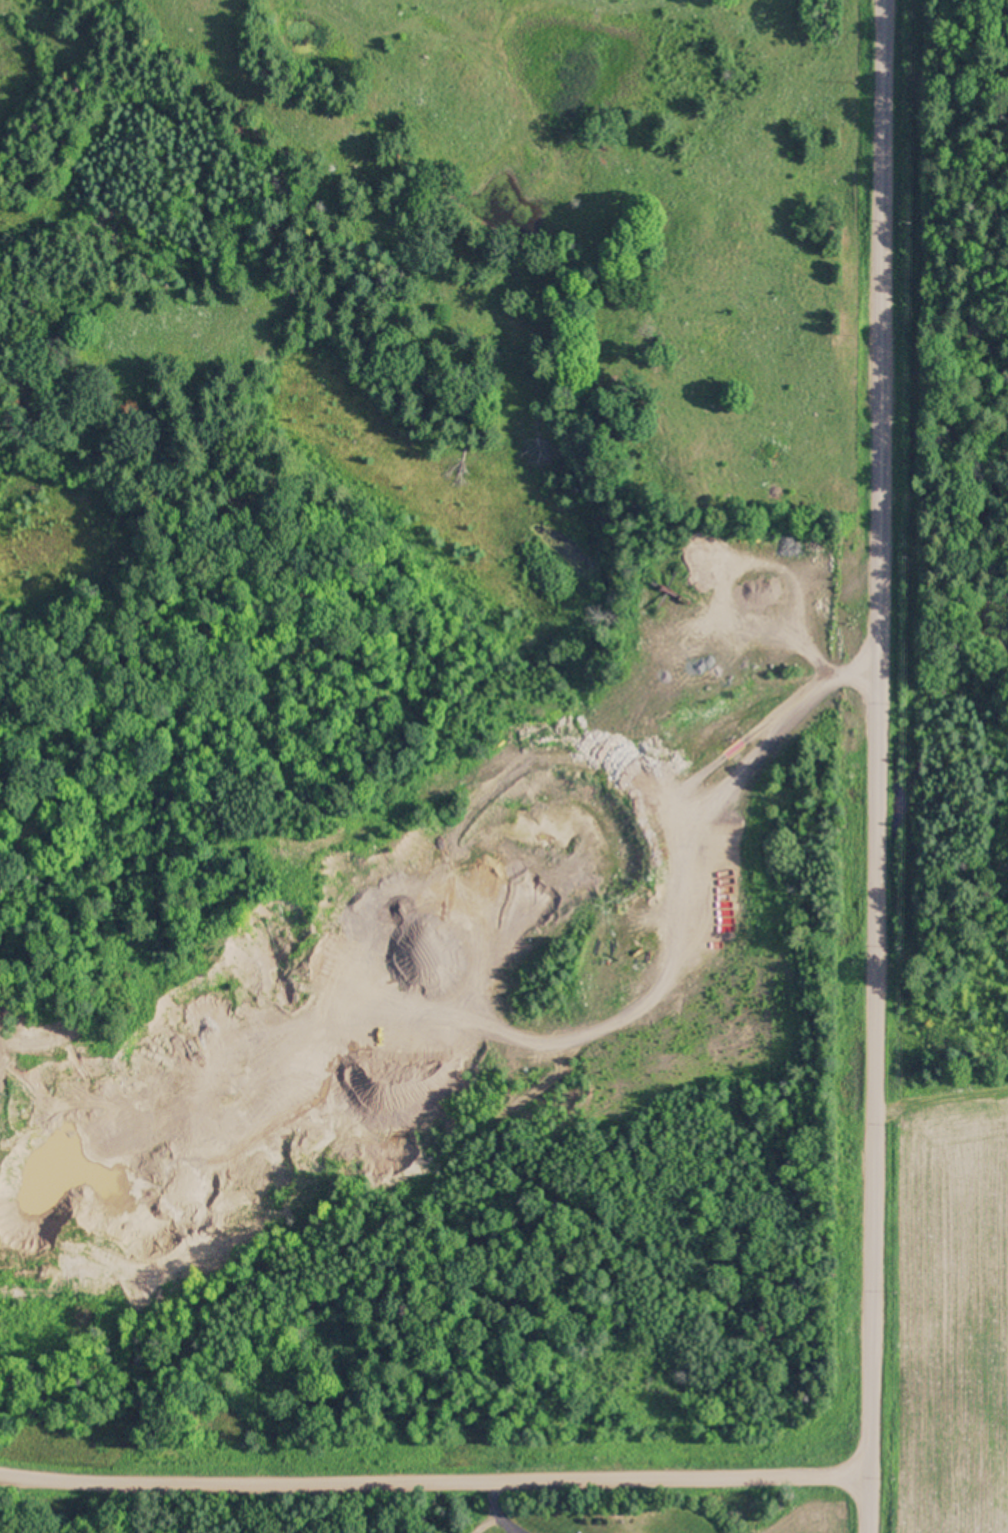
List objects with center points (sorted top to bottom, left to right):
road: (879, 766)
road: (435, 1489)

